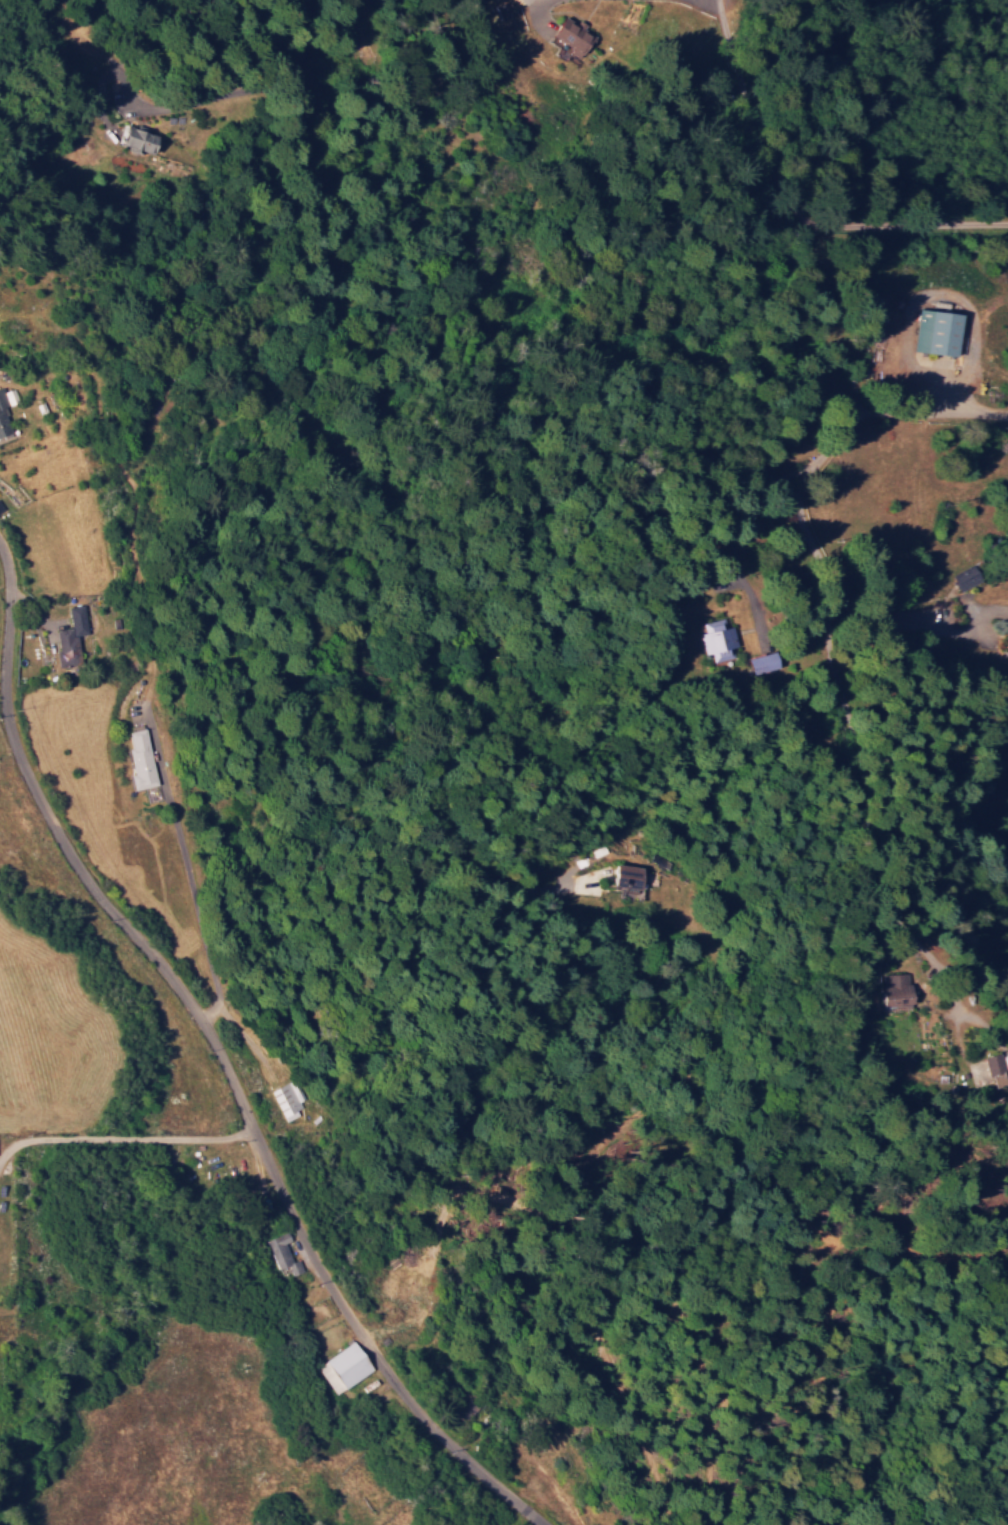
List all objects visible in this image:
building: (572, 36)
building: (142, 140)
building: (939, 332)
building: (4, 419)
building: (72, 636)
building: (719, 643)
building: (765, 662)
building: (631, 877)
road: (219, 1058)
building: (999, 1070)
building: (290, 1098)
road: (129, 1165)
building: (284, 1252)
building: (346, 1367)

